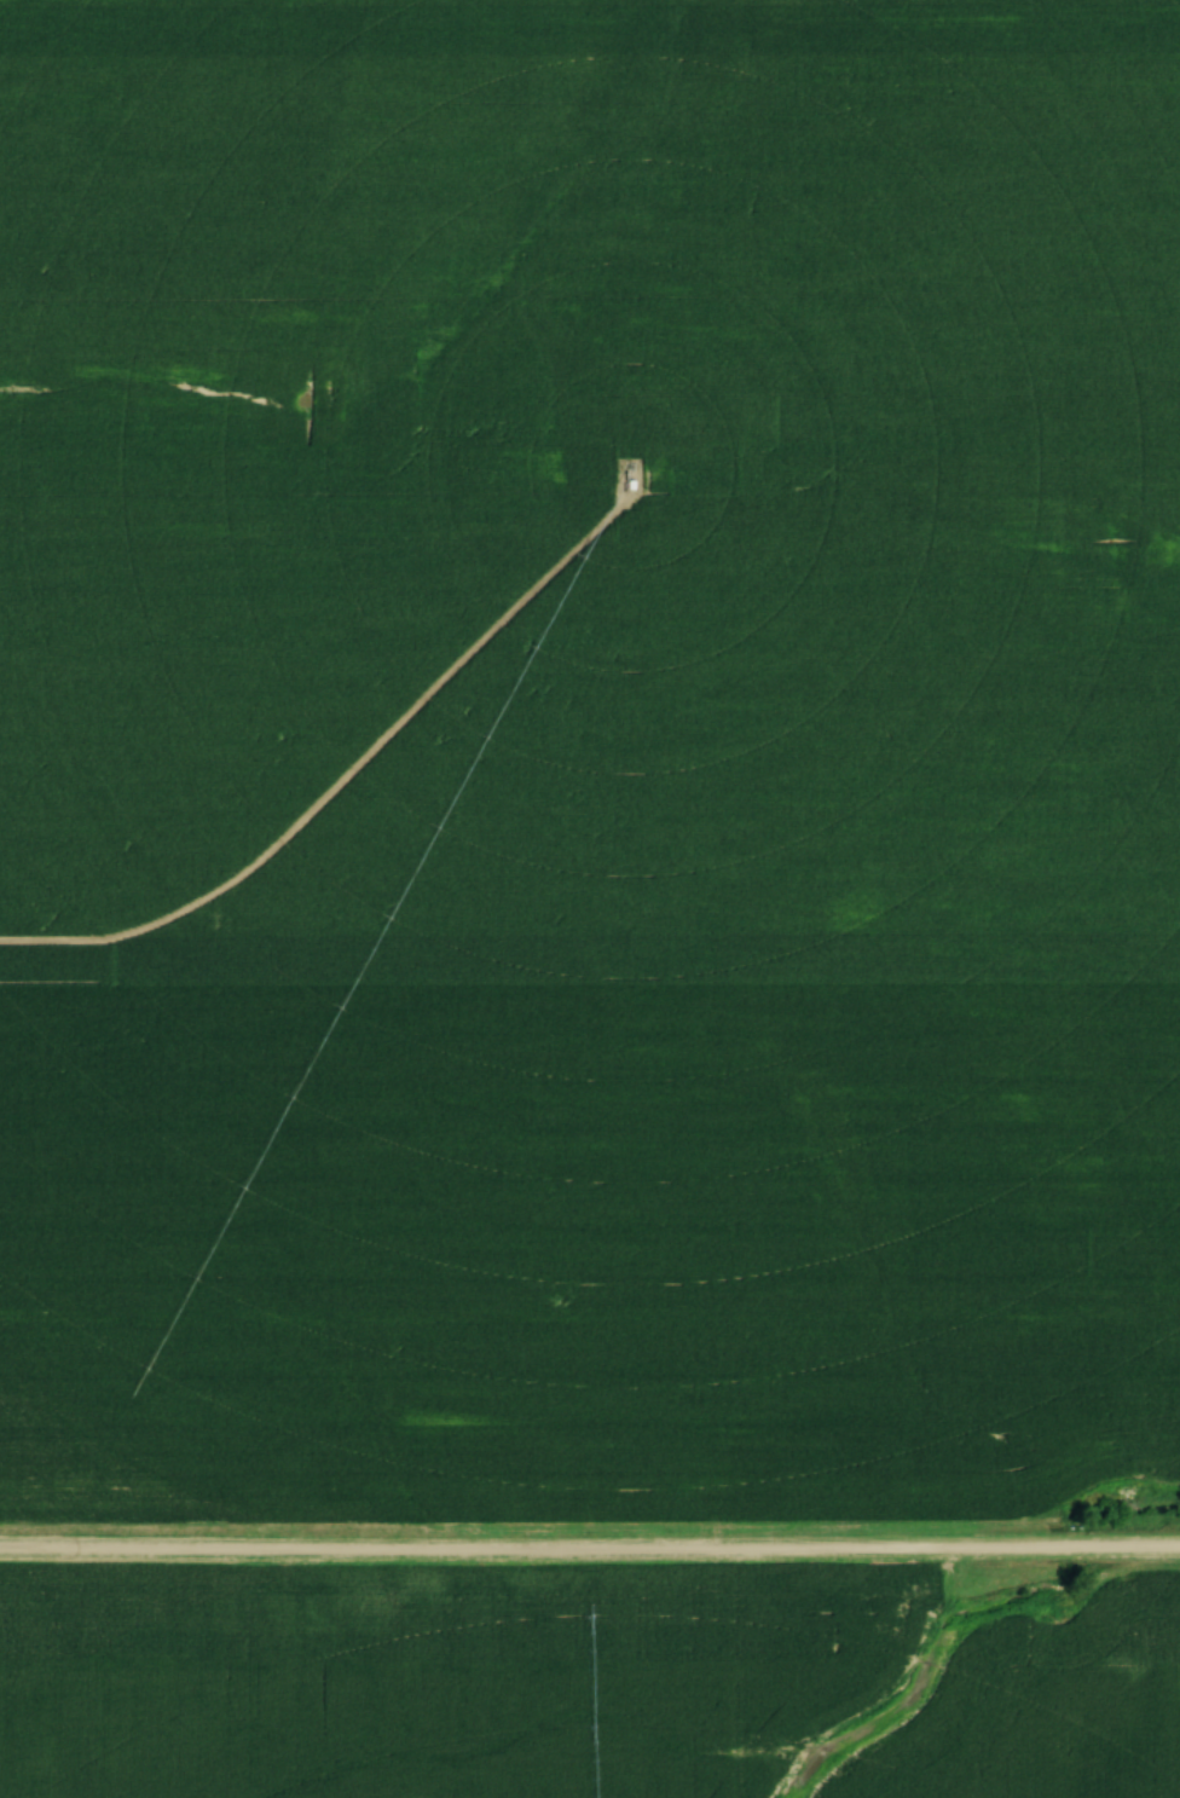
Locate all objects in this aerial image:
road: (590, 1553)

